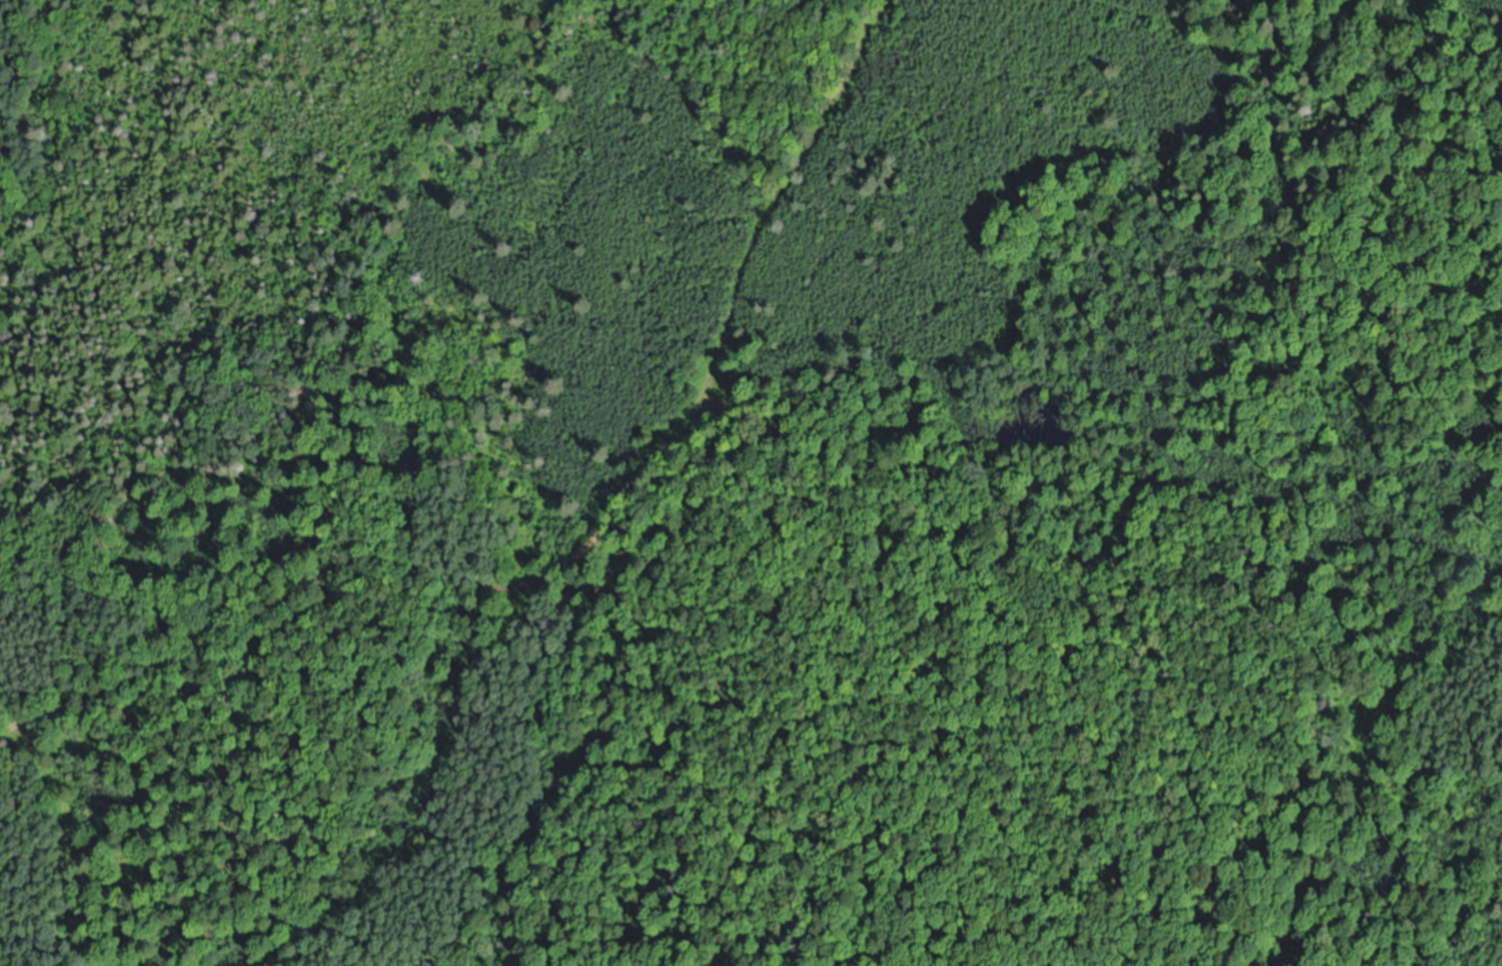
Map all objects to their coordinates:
road: (588, 557)

